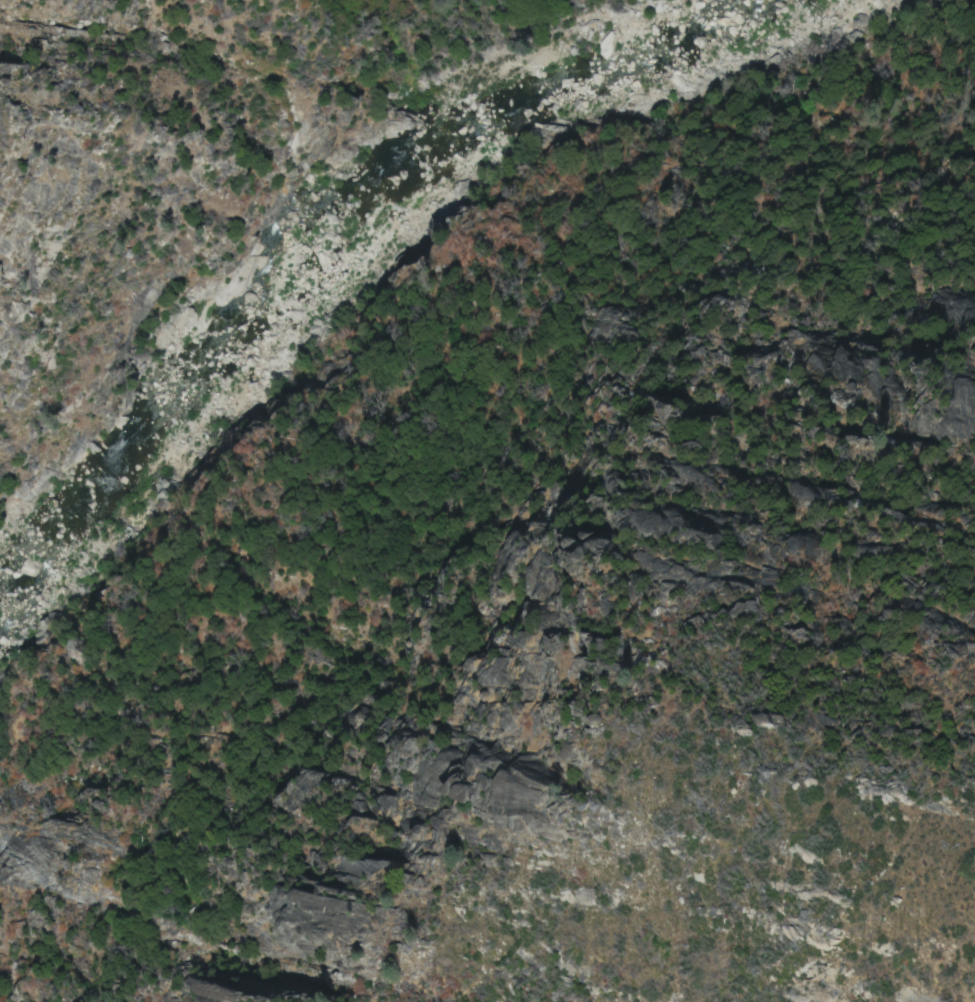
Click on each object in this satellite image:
river: (325, 227)

